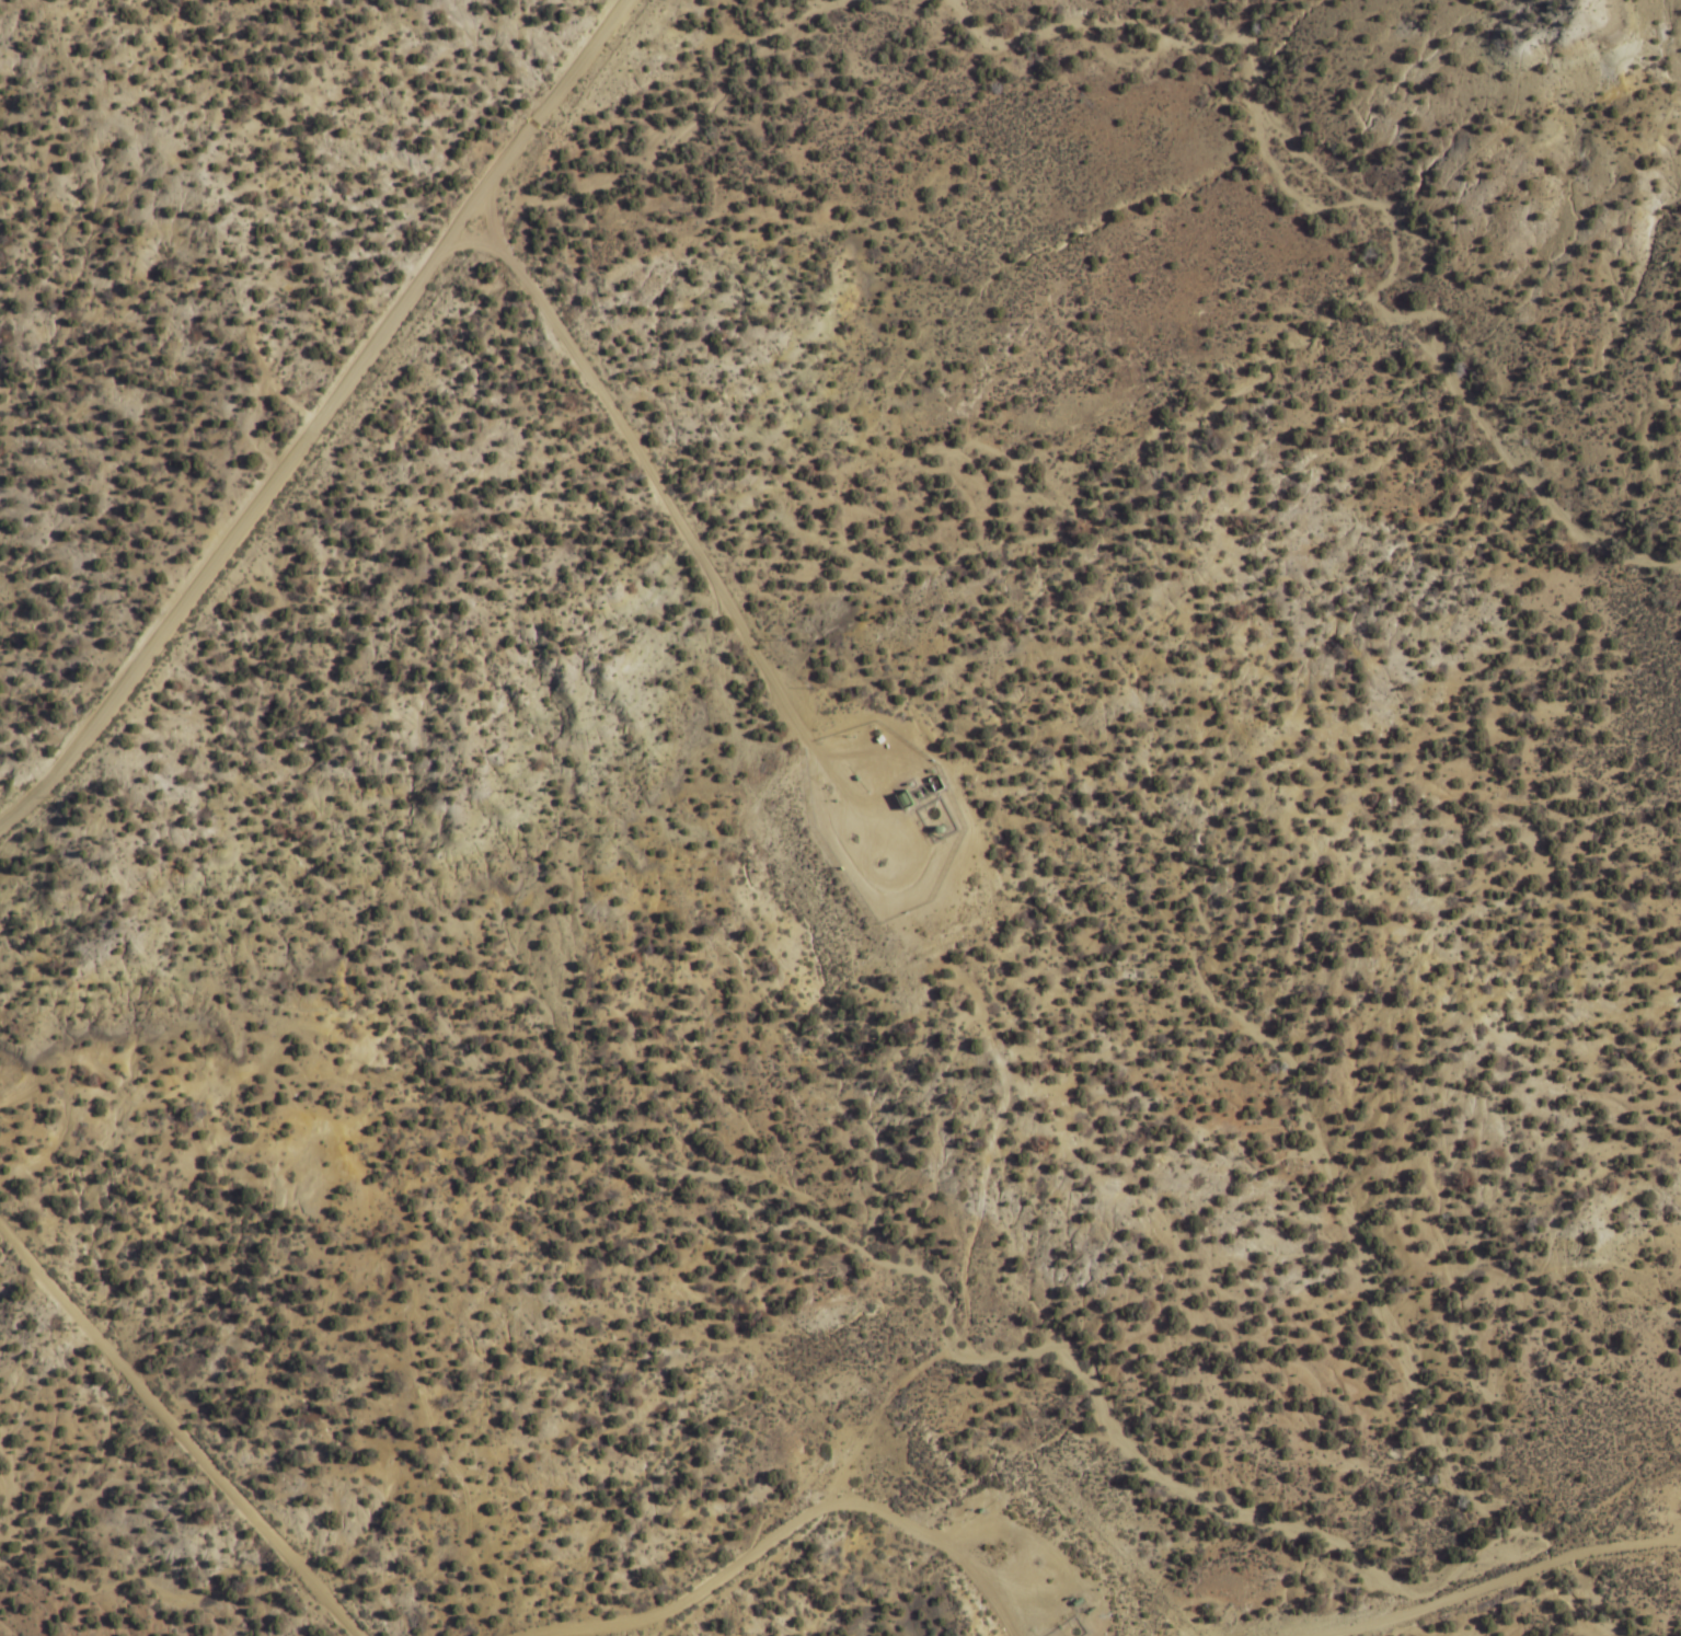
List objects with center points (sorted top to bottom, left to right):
road: (479, 208)
road: (313, 412)
road: (655, 500)
road: (935, 1345)
road: (173, 1436)
road: (778, 1523)
road: (1667, 1542)
road: (1029, 1547)
road: (1492, 1585)

